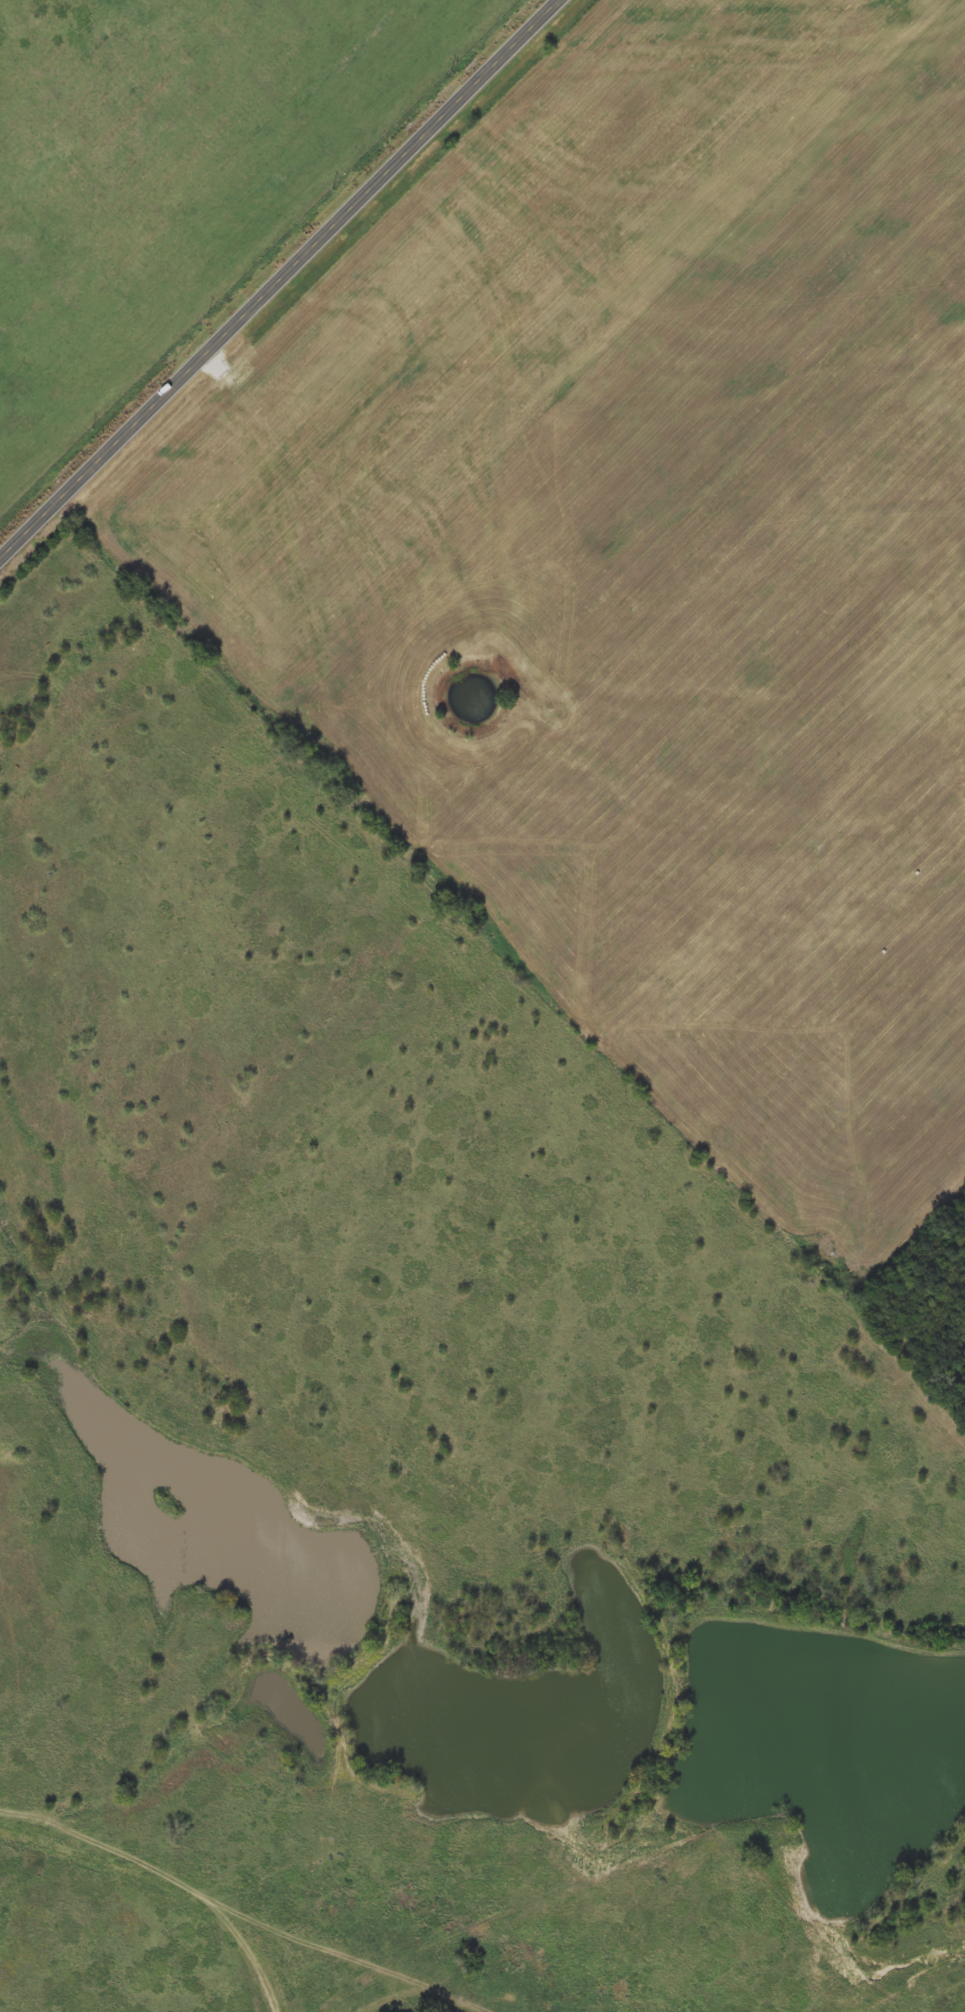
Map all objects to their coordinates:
road: (277, 279)
road: (166, 1884)

